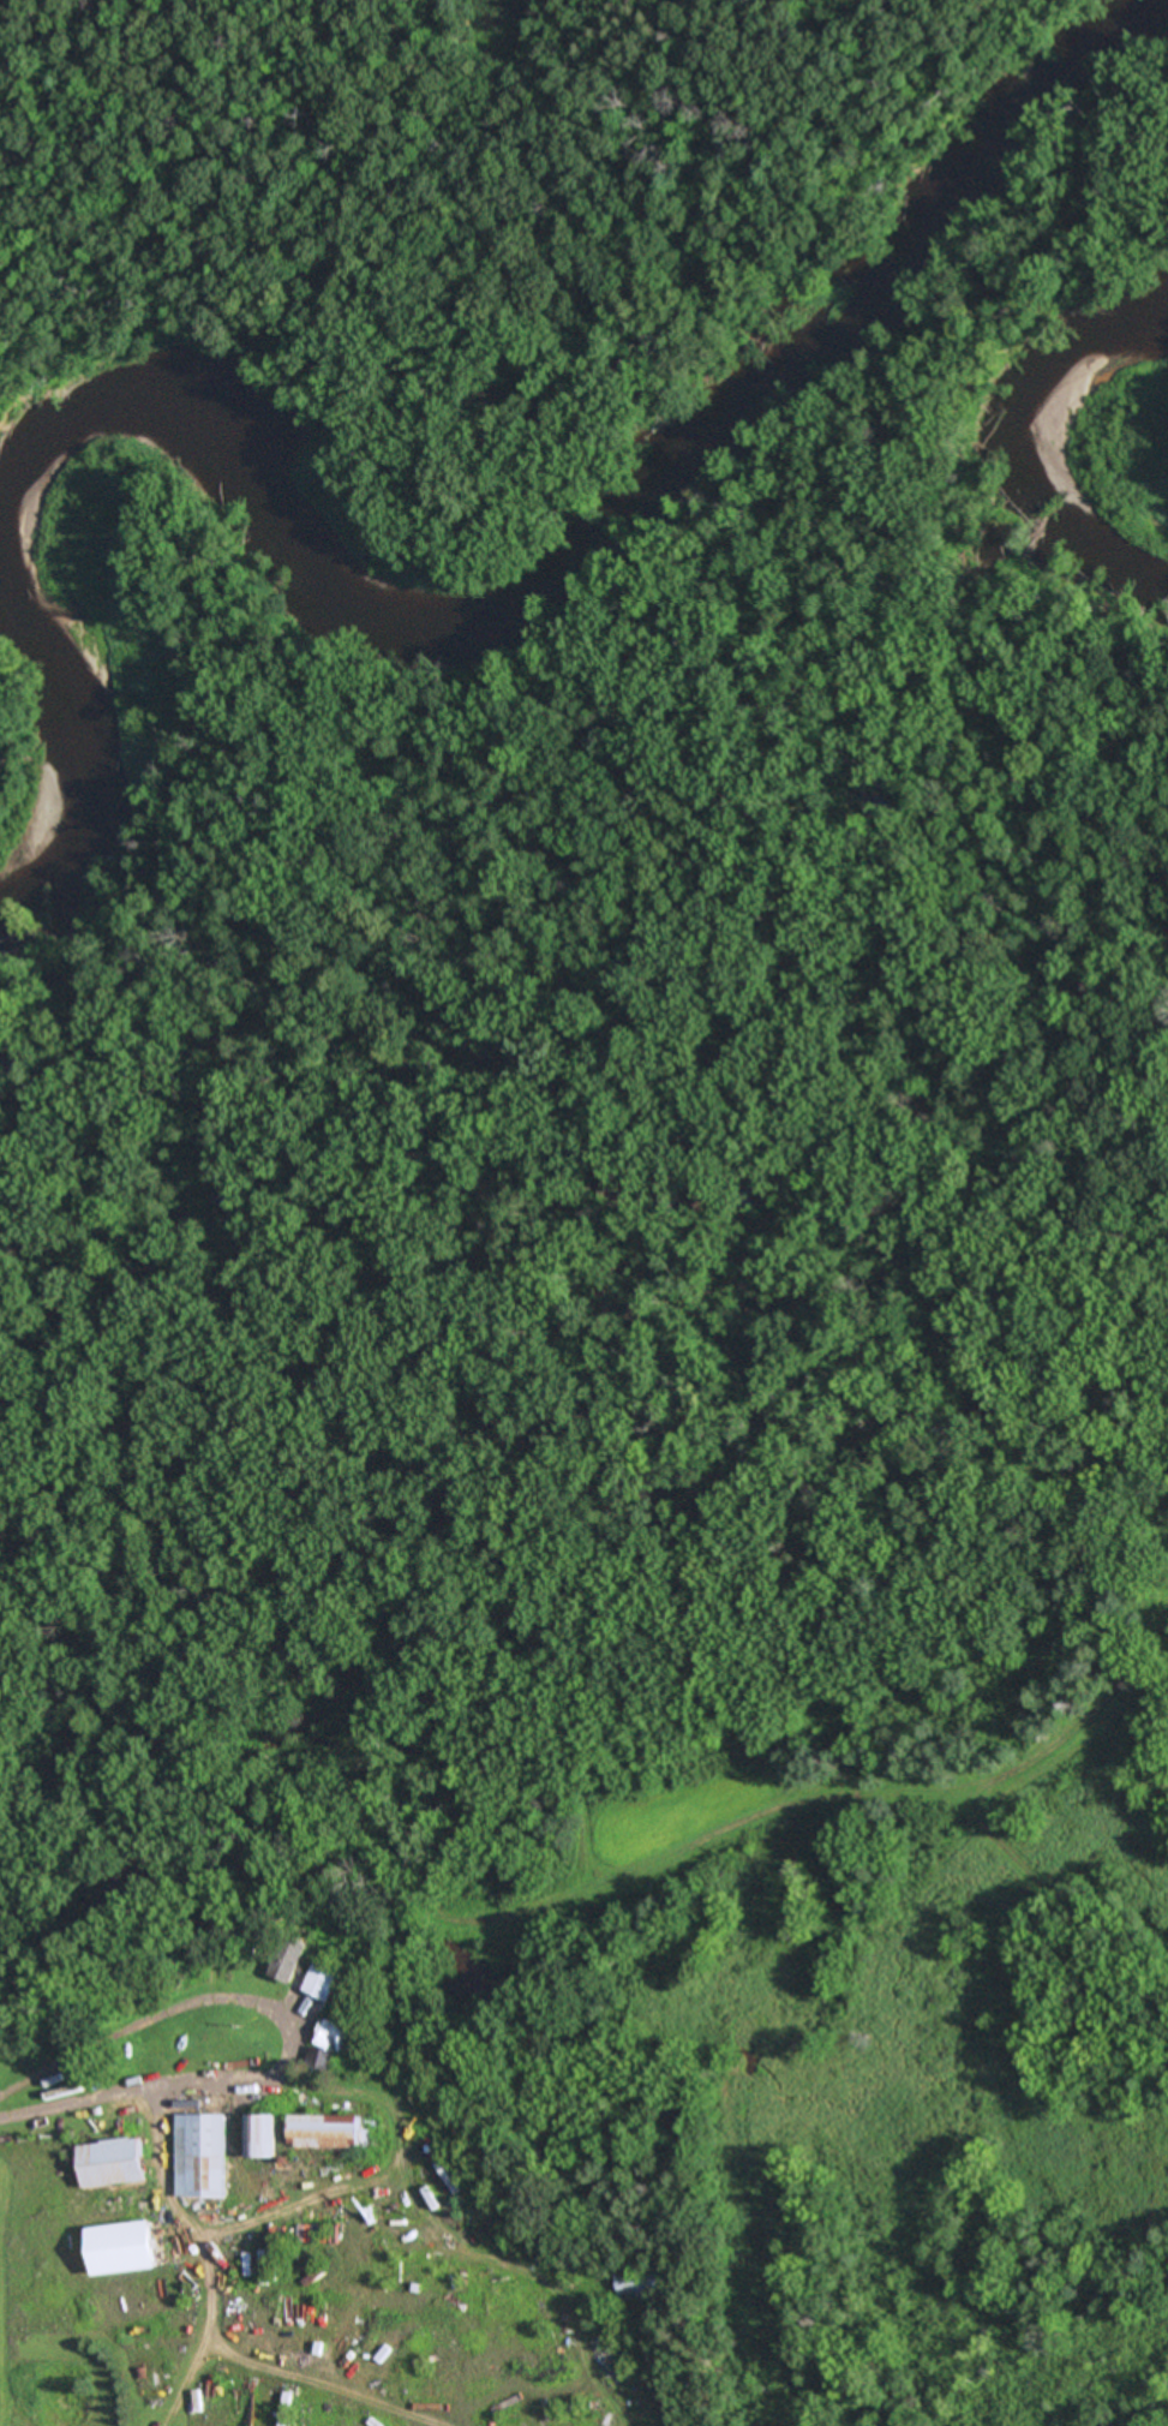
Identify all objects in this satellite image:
river: (499, 568)
building: (292, 1959)
building: (327, 1980)
road: (235, 1998)
building: (335, 2036)
building: (331, 2131)
building: (202, 2155)
building: (113, 2162)
road: (378, 2174)
road: (169, 2195)
building: (125, 2248)
building: (648, 2281)
road: (322, 2384)

